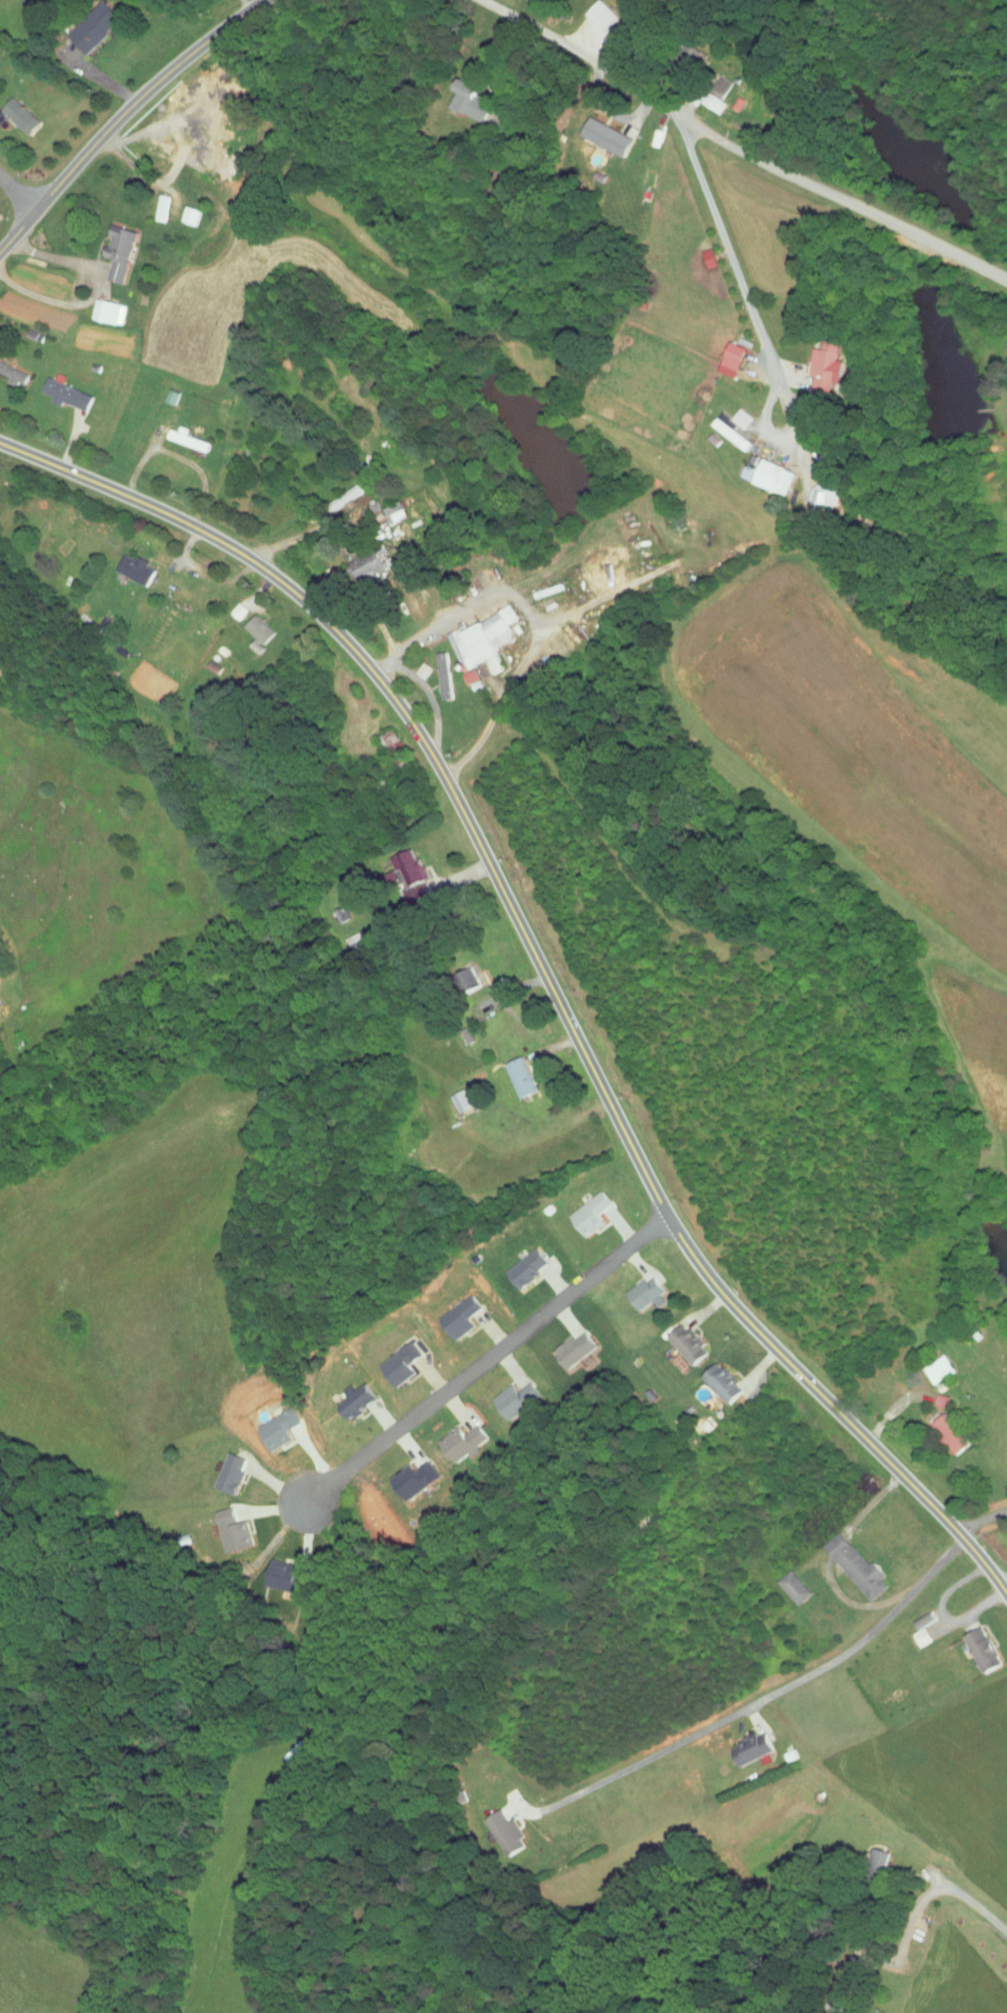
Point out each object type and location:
building: (595, 10)
building: (87, 21)
road: (95, 73)
building: (462, 95)
building: (707, 97)
building: (13, 111)
road: (120, 115)
building: (599, 131)
road: (732, 145)
road: (136, 166)
road: (17, 196)
road: (454, 200)
building: (153, 202)
building: (183, 209)
building: (111, 246)
road: (95, 288)
building: (99, 306)
road: (751, 313)
building: (724, 354)
building: (818, 361)
building: (8, 371)
building: (59, 389)
building: (162, 391)
building: (732, 413)
building: (724, 427)
building: (179, 433)
building: (737, 466)
building: (766, 471)
building: (814, 488)
building: (386, 506)
road: (295, 537)
building: (359, 560)
building: (126, 563)
building: (228, 605)
road: (531, 614)
building: (252, 623)
building: (473, 638)
building: (249, 640)
building: (434, 670)
building: (381, 736)
building: (401, 862)
building: (418, 890)
road: (541, 970)
building: (459, 976)
building: (512, 1072)
building: (452, 1096)
building: (582, 1207)
building: (518, 1262)
building: (637, 1286)
building: (452, 1311)
building: (680, 1338)
building: (568, 1343)
building: (392, 1358)
road: (486, 1359)
building: (930, 1363)
building: (714, 1377)
building: (508, 1393)
building: (350, 1394)
building: (269, 1423)
building: (941, 1428)
building: (454, 1436)
building: (222, 1467)
building: (408, 1473)
road: (870, 1504)
building: (225, 1524)
road: (980, 1527)
road: (834, 1543)
building: (847, 1559)
road: (1001, 1580)
building: (784, 1581)
road: (854, 1602)
road: (943, 1613)
building: (914, 1614)
building: (913, 1630)
building: (973, 1644)
road: (762, 1698)
building: (744, 1742)
building: (498, 1828)
road: (935, 1895)

